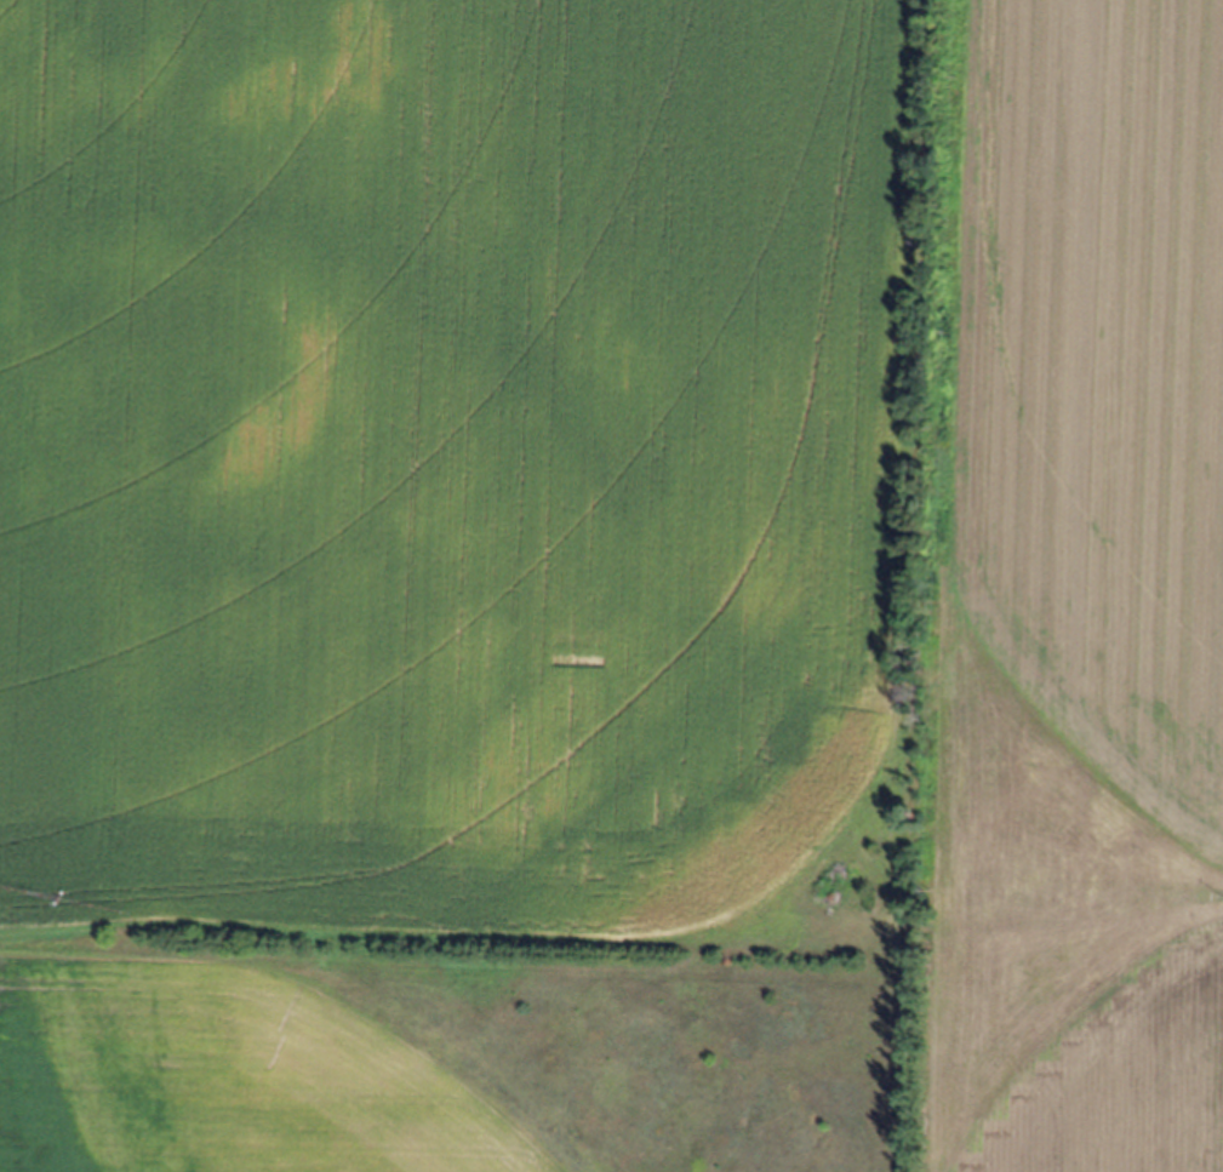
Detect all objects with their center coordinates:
crop: (611, 585)

